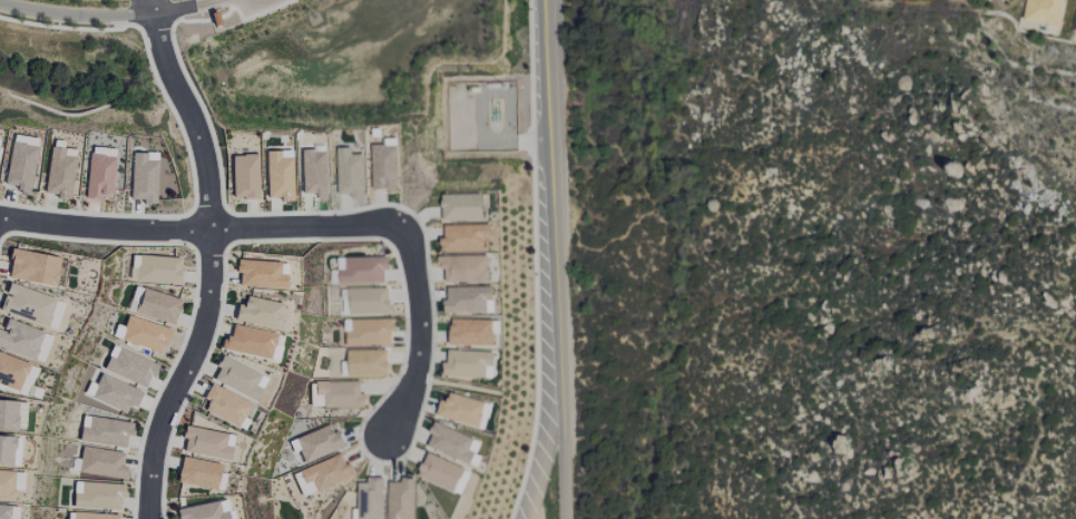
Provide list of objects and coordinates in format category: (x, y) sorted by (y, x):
road: (213, 1)
road: (252, 6)
building: (1043, 11)
road: (105, 16)
building: (1075, 28)
power substation: (483, 116)
building: (19, 166)
building: (383, 166)
building: (58, 173)
building: (314, 173)
building: (350, 173)
building: (97, 175)
building: (277, 175)
building: (243, 176)
building: (141, 177)
building: (460, 206)
road: (203, 232)
building: (463, 237)
road: (208, 258)
road: (559, 258)
building: (31, 267)
building: (463, 267)
building: (155, 268)
building: (361, 270)
building: (258, 274)
building: (468, 298)
building: (368, 300)
building: (26, 304)
building: (155, 305)
building: (258, 312)
building: (53, 314)
building: (369, 331)
building: (144, 334)
road: (420, 334)
building: (23, 341)
building: (247, 341)
building: (467, 362)
building: (369, 363)
building: (128, 366)
building: (10, 371)
building: (237, 378)
building: (26, 380)
building: (113, 393)
building: (335, 394)
building: (224, 405)
building: (460, 409)
building: (7, 414)
building: (19, 415)
building: (104, 431)
building: (451, 442)
building: (206, 443)
building: (316, 443)
building: (6, 450)
building: (101, 462)
building: (439, 471)
building: (197, 472)
building: (322, 474)
building: (461, 481)
building: (6, 486)
building: (97, 496)
building: (369, 498)
building: (8, 511)
building: (94, 516)

